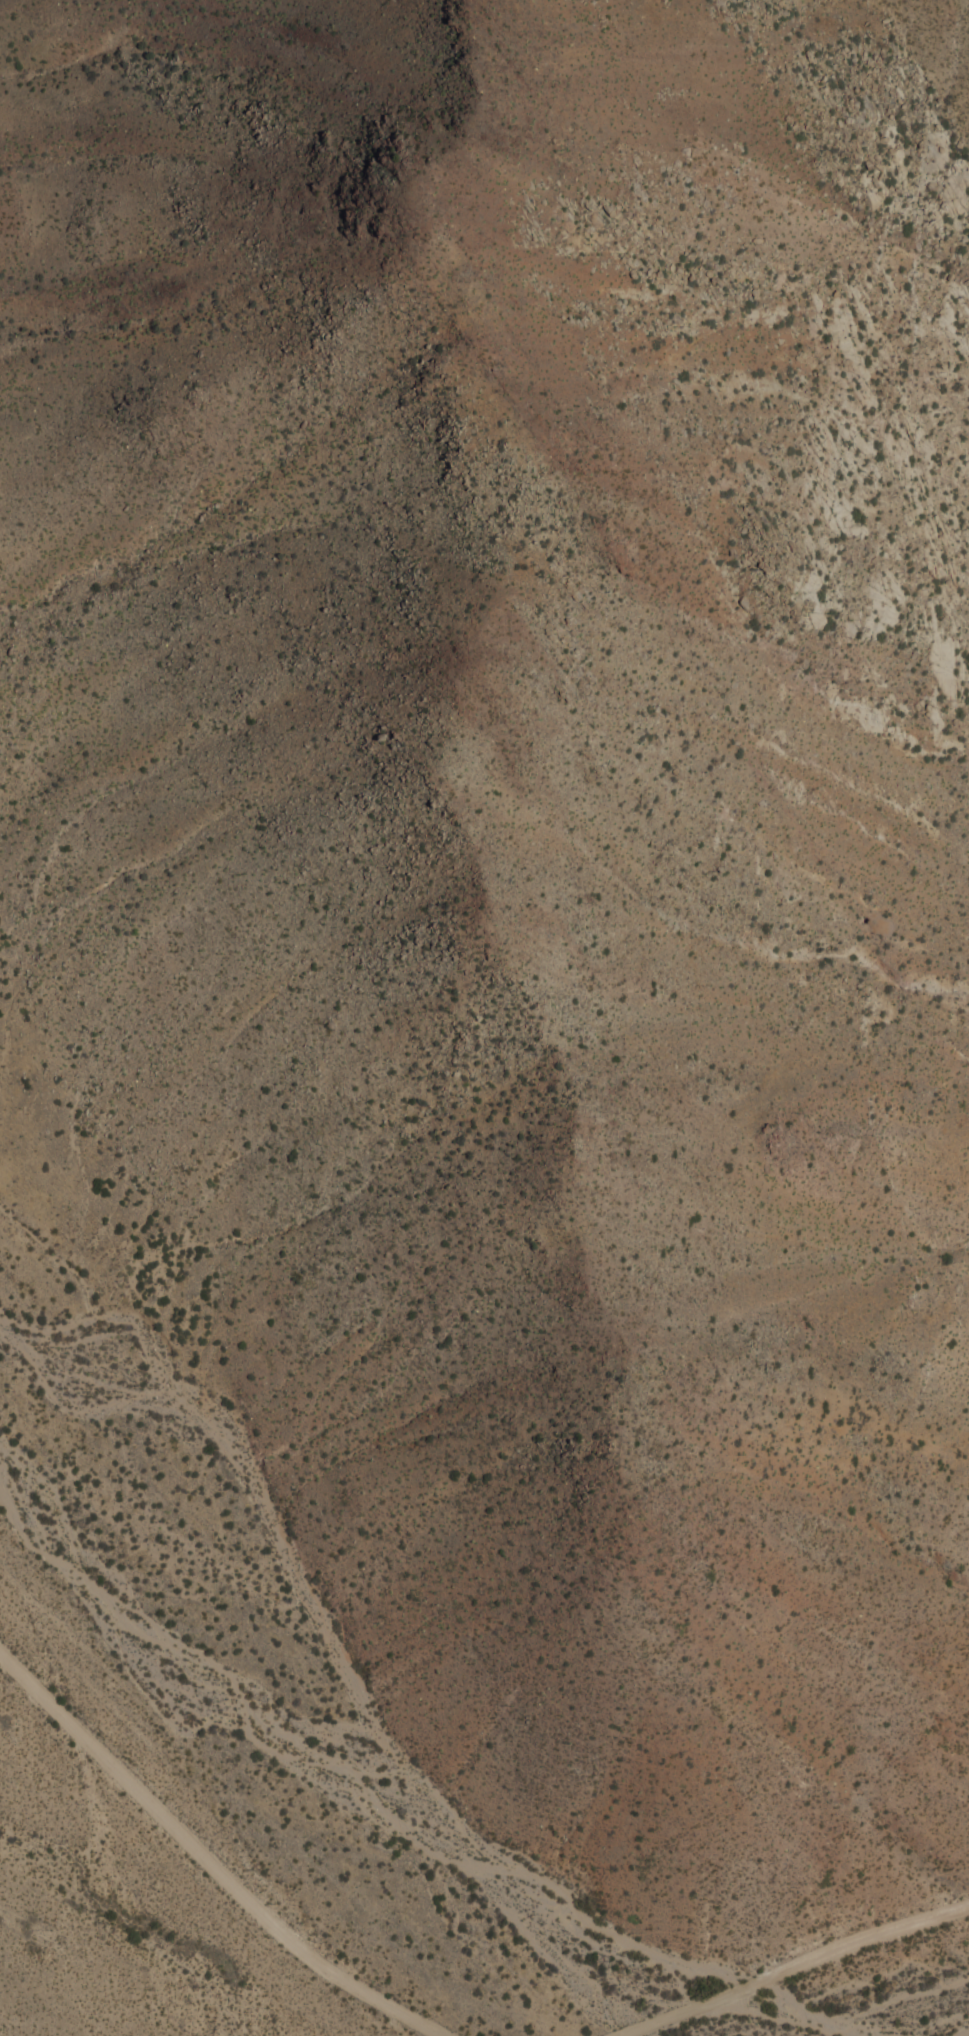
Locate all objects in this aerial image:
road: (204, 1864)
road: (795, 1964)

